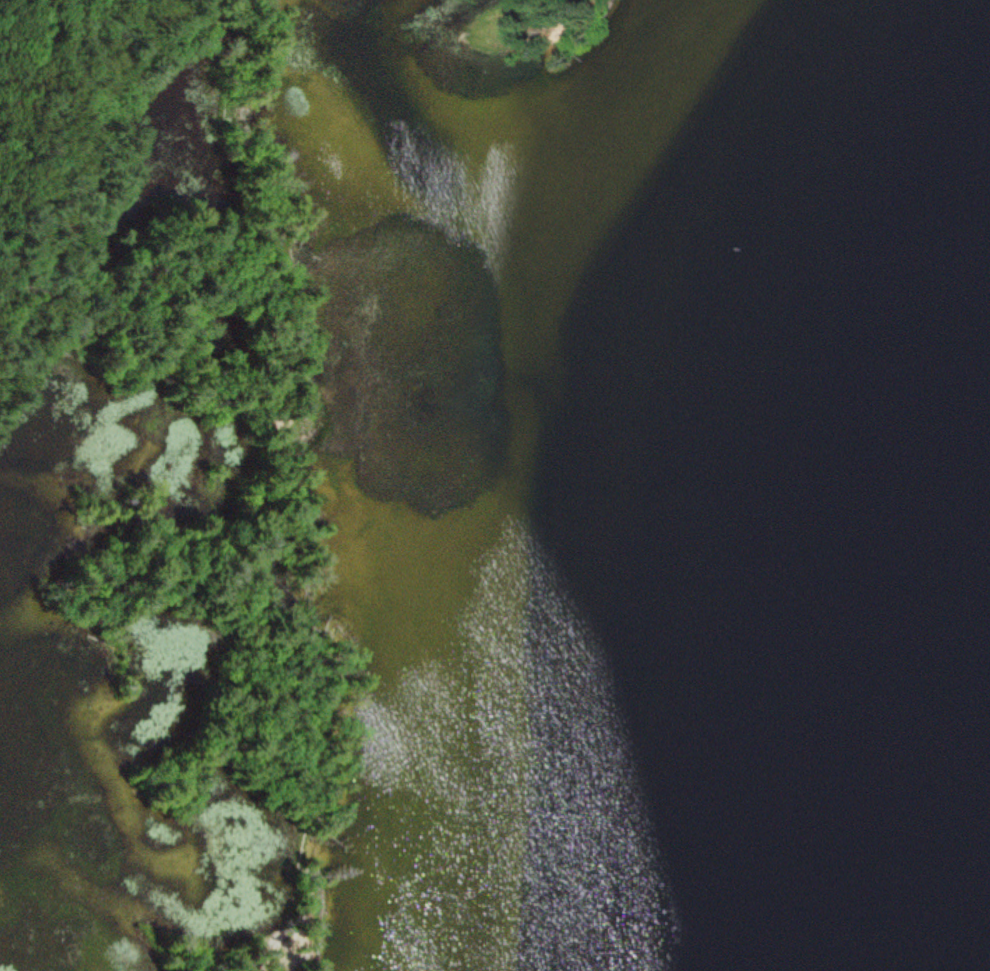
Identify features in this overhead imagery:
park: (531, 31)
road: (144, 384)
park: (164, 495)
road: (283, 504)

